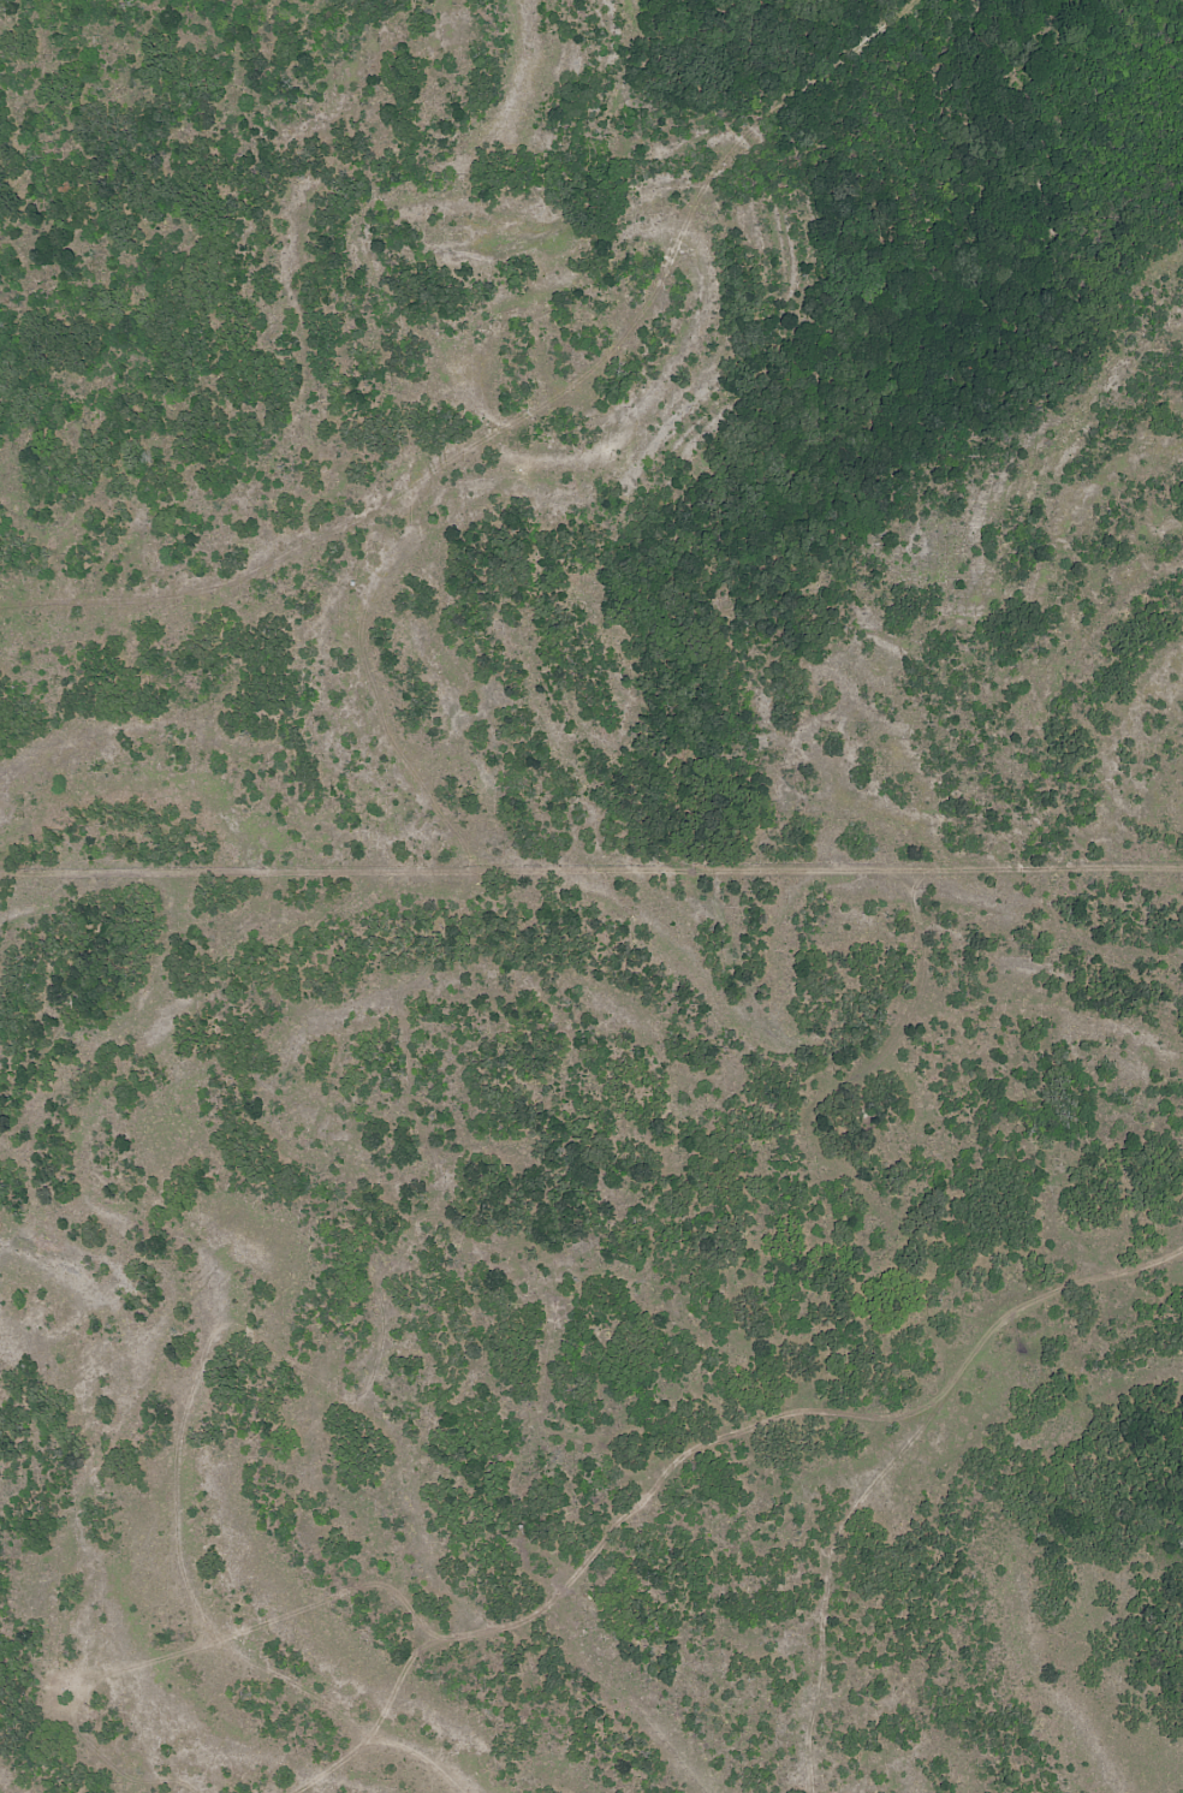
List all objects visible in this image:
road: (572, 402)
road: (908, 1467)
road: (382, 1768)

